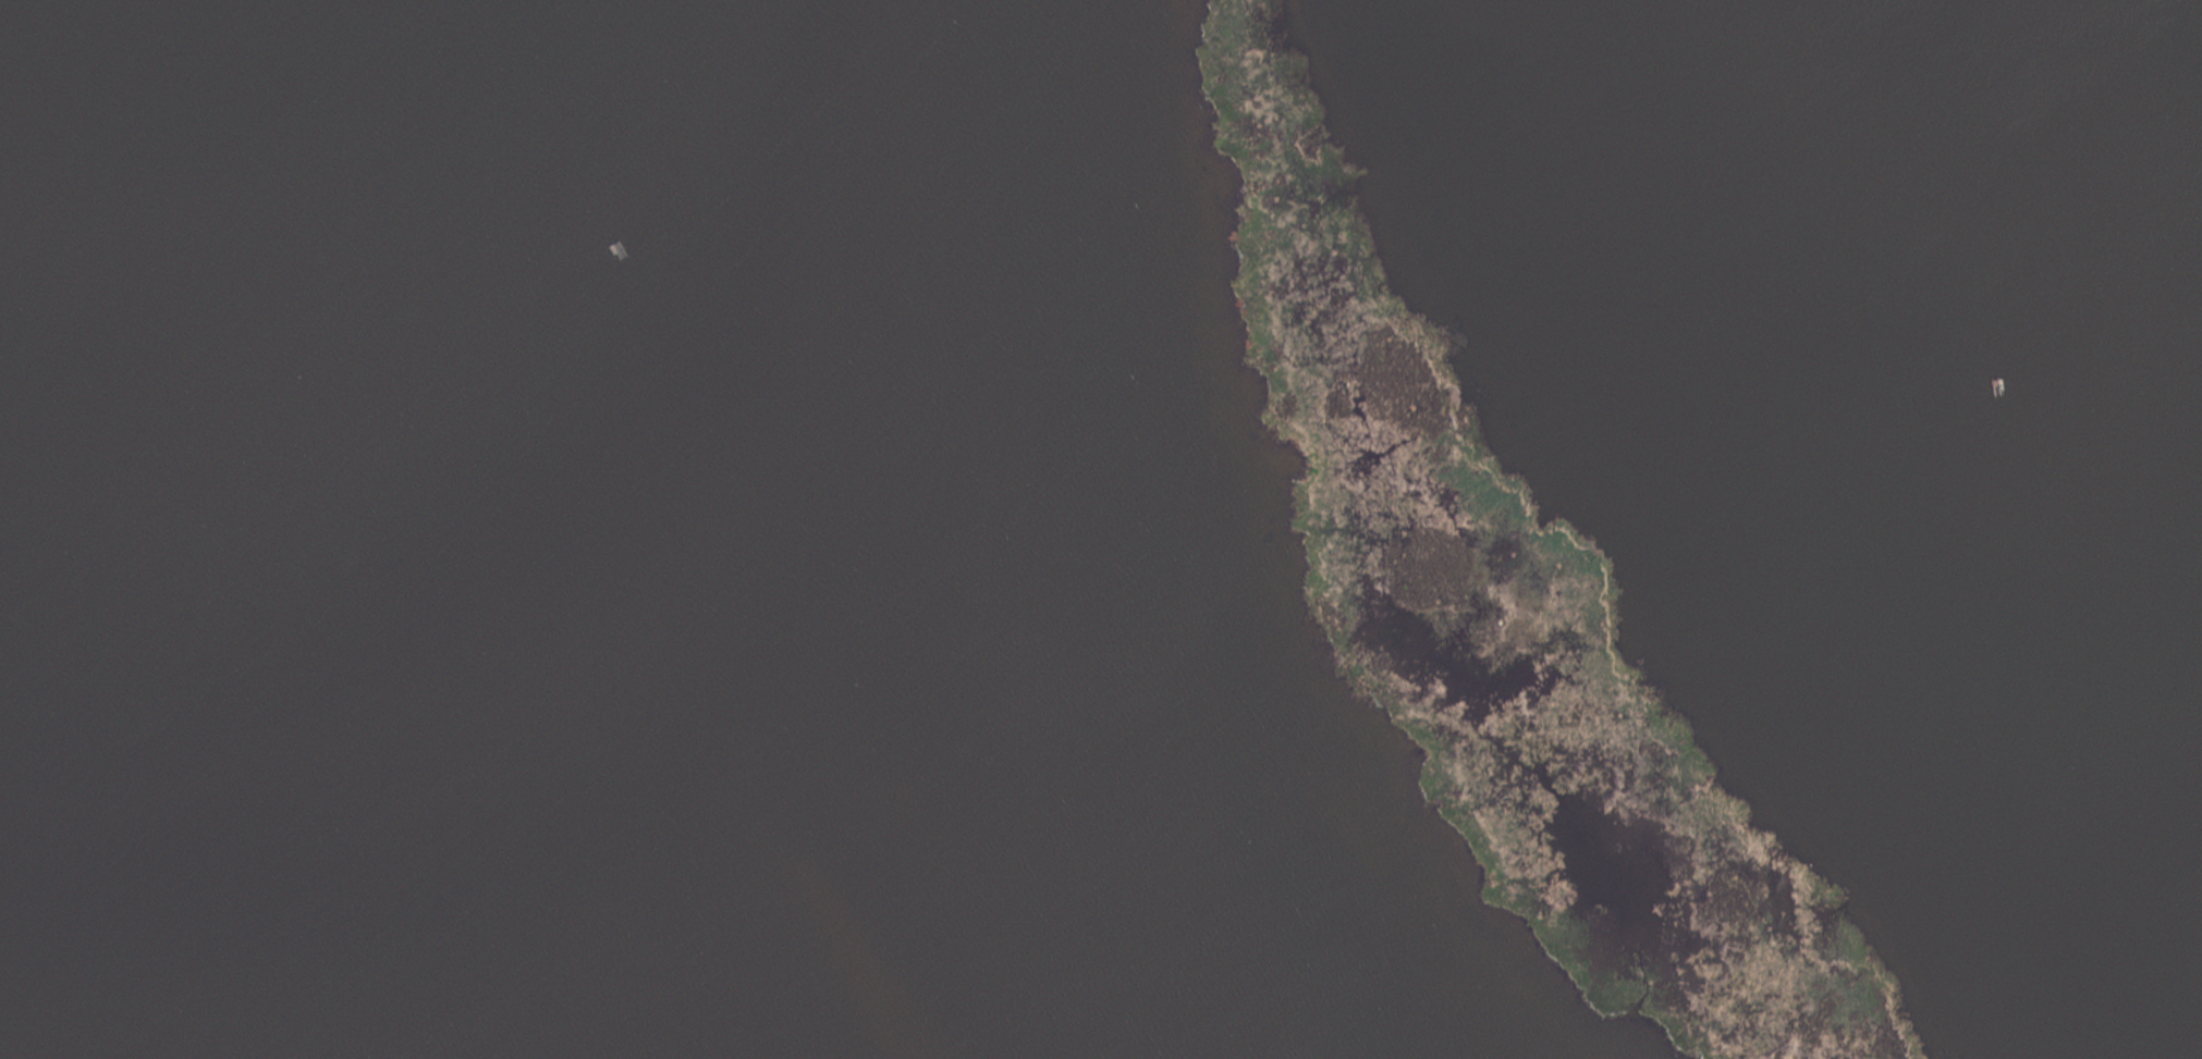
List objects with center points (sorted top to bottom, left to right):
river: (2178, 70)

